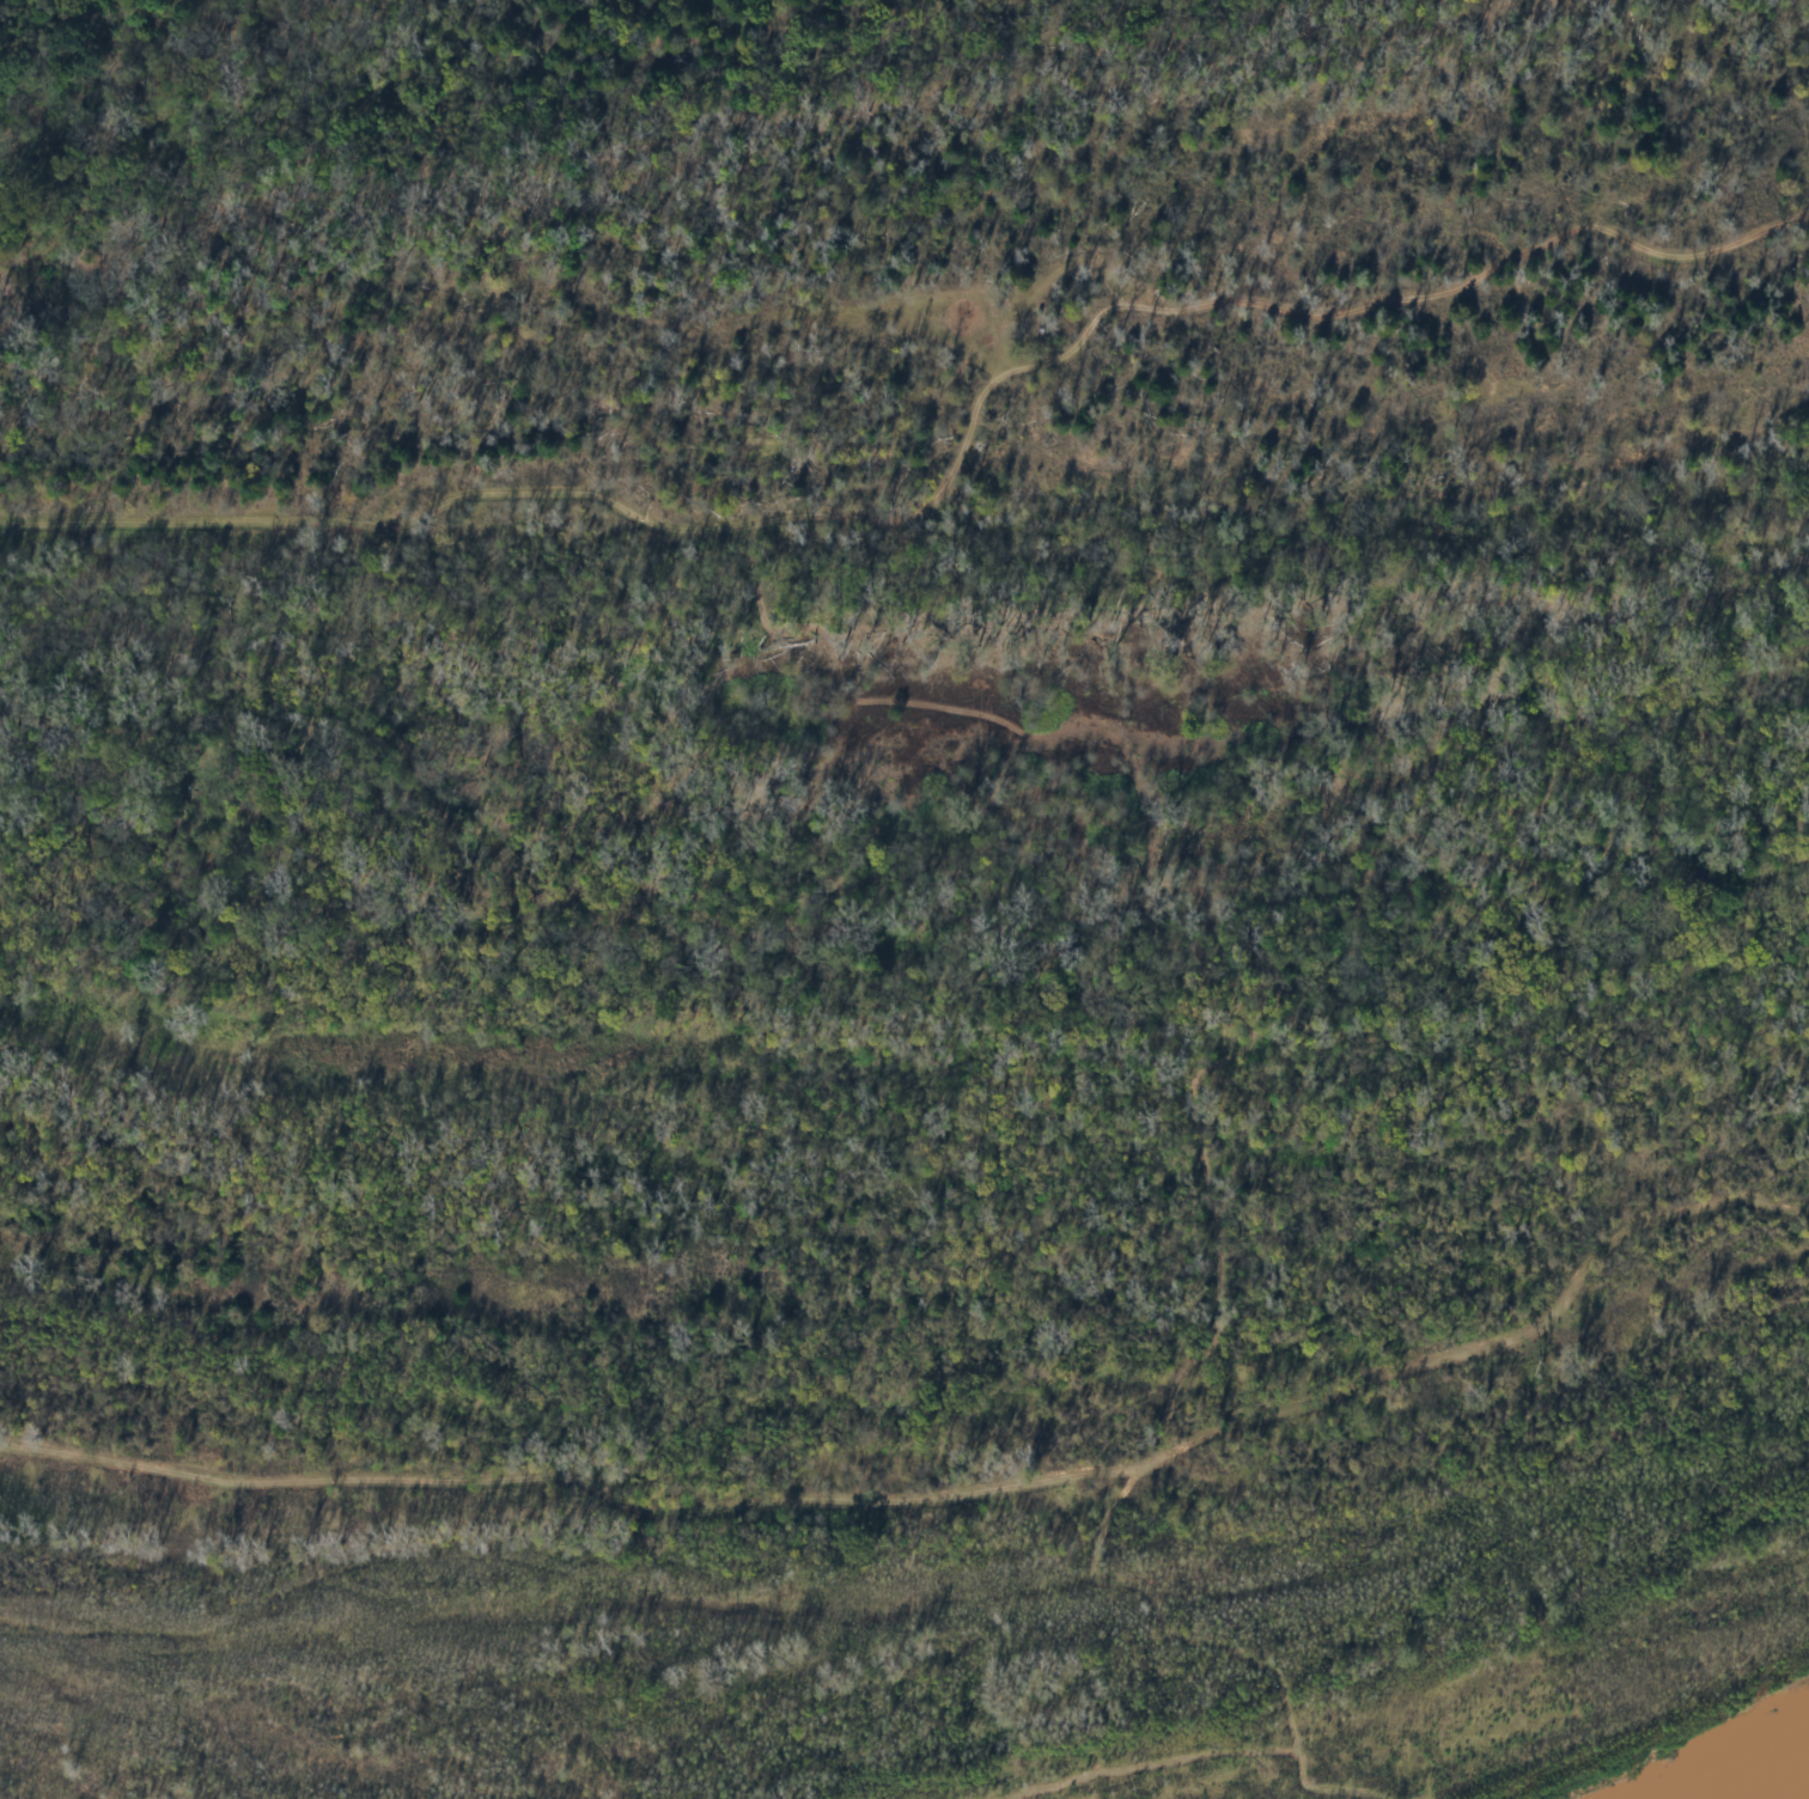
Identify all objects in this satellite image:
river: (1601, 1719)

